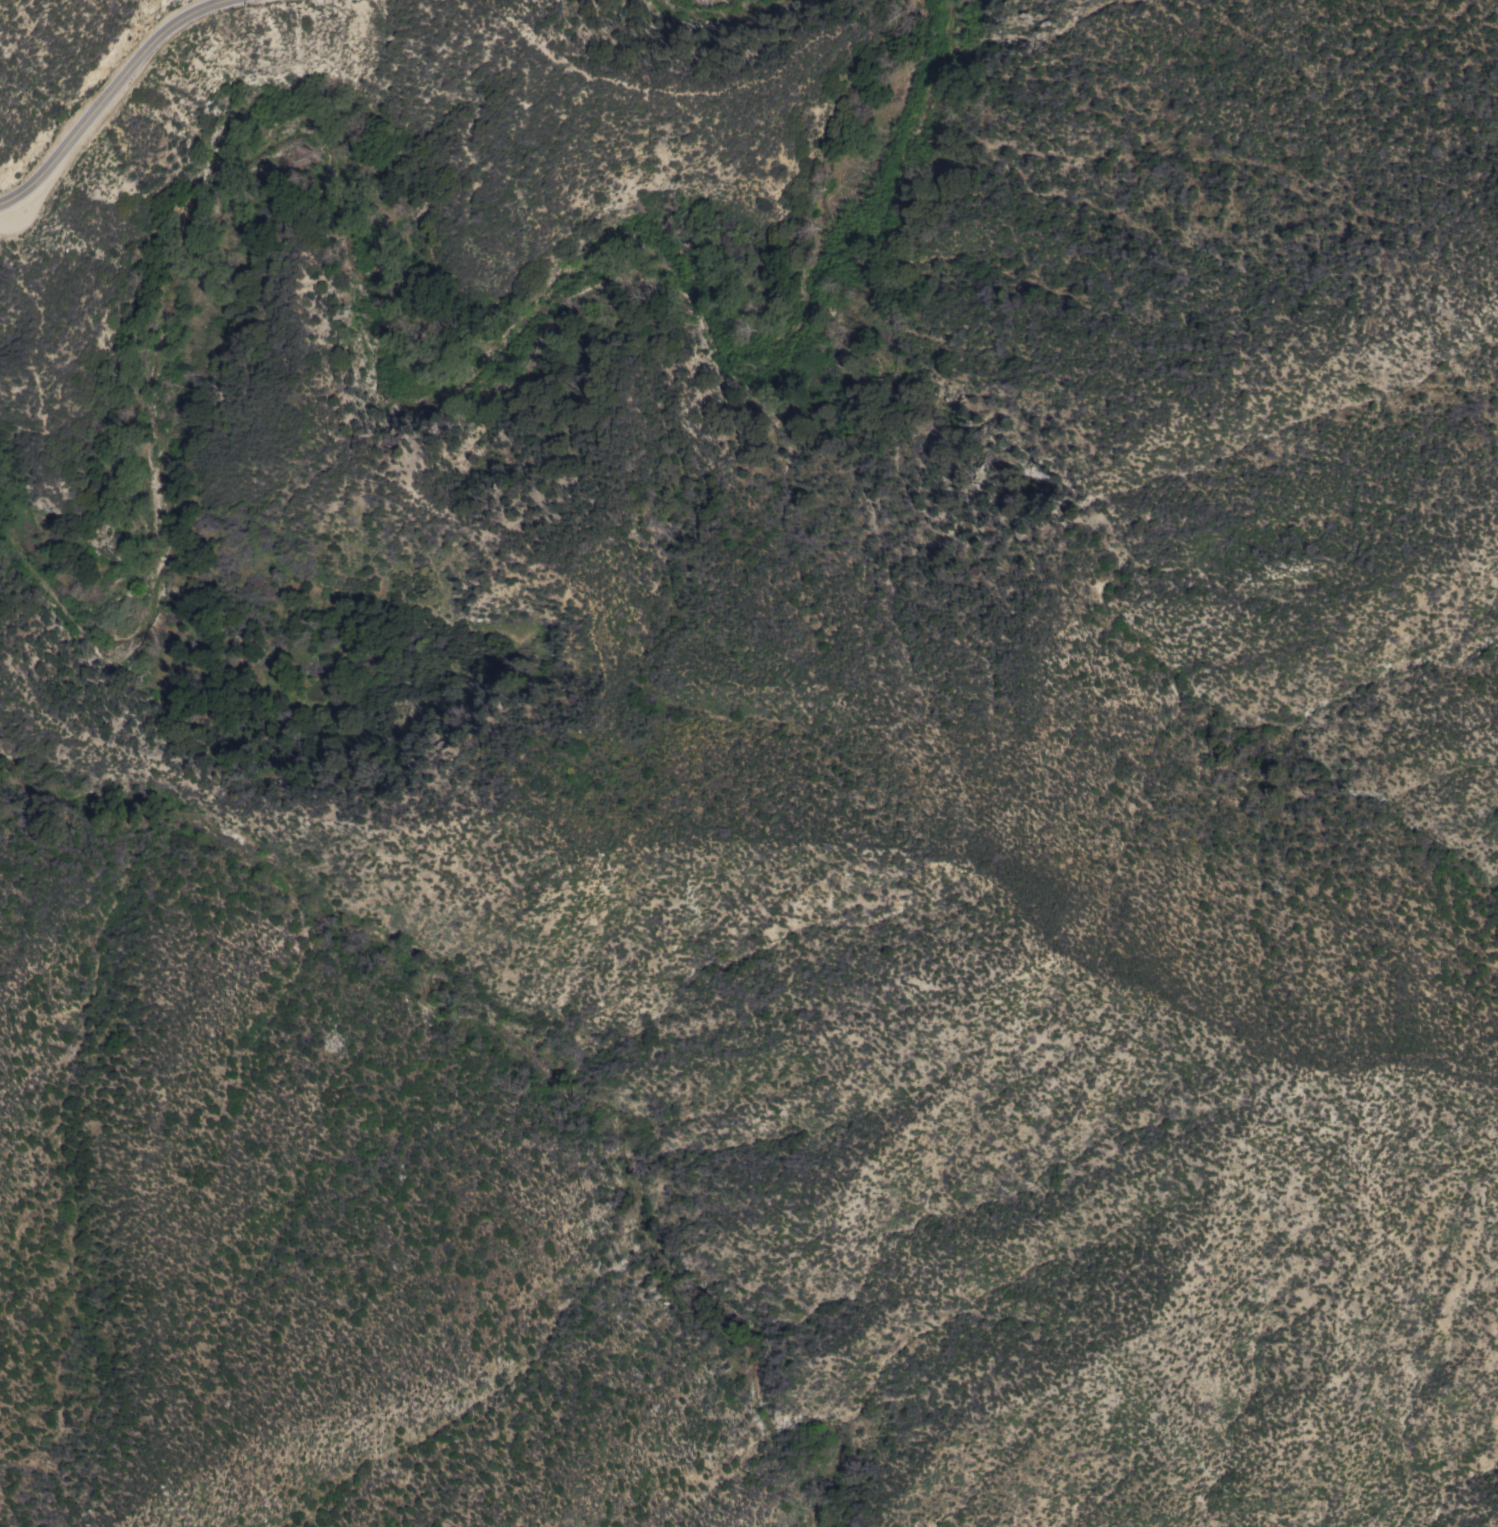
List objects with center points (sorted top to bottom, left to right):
road: (114, 91)

